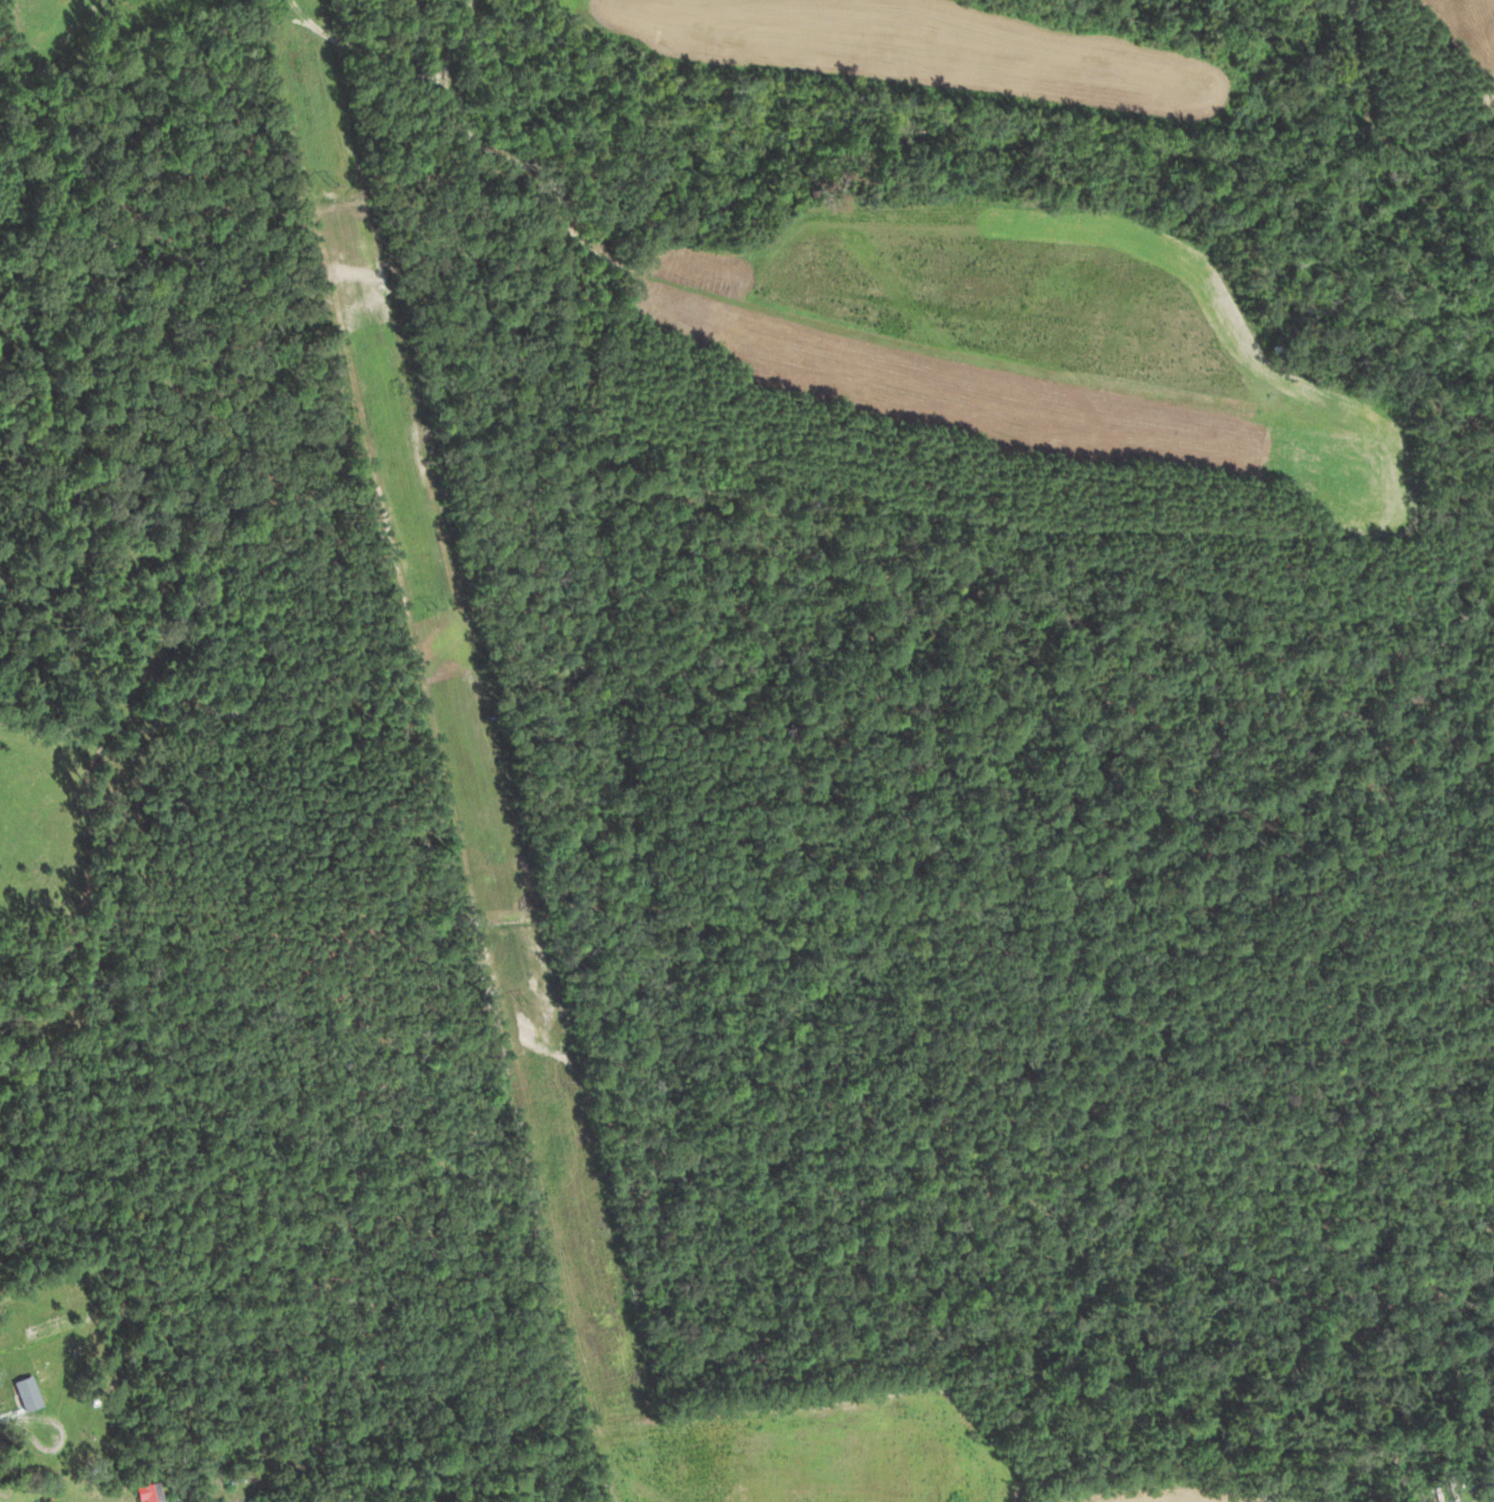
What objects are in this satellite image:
power tower: (329, 180)
power tower: (431, 606)
power tower: (520, 1002)
building: (36, 1394)
power tower: (628, 1455)
building: (149, 1493)

